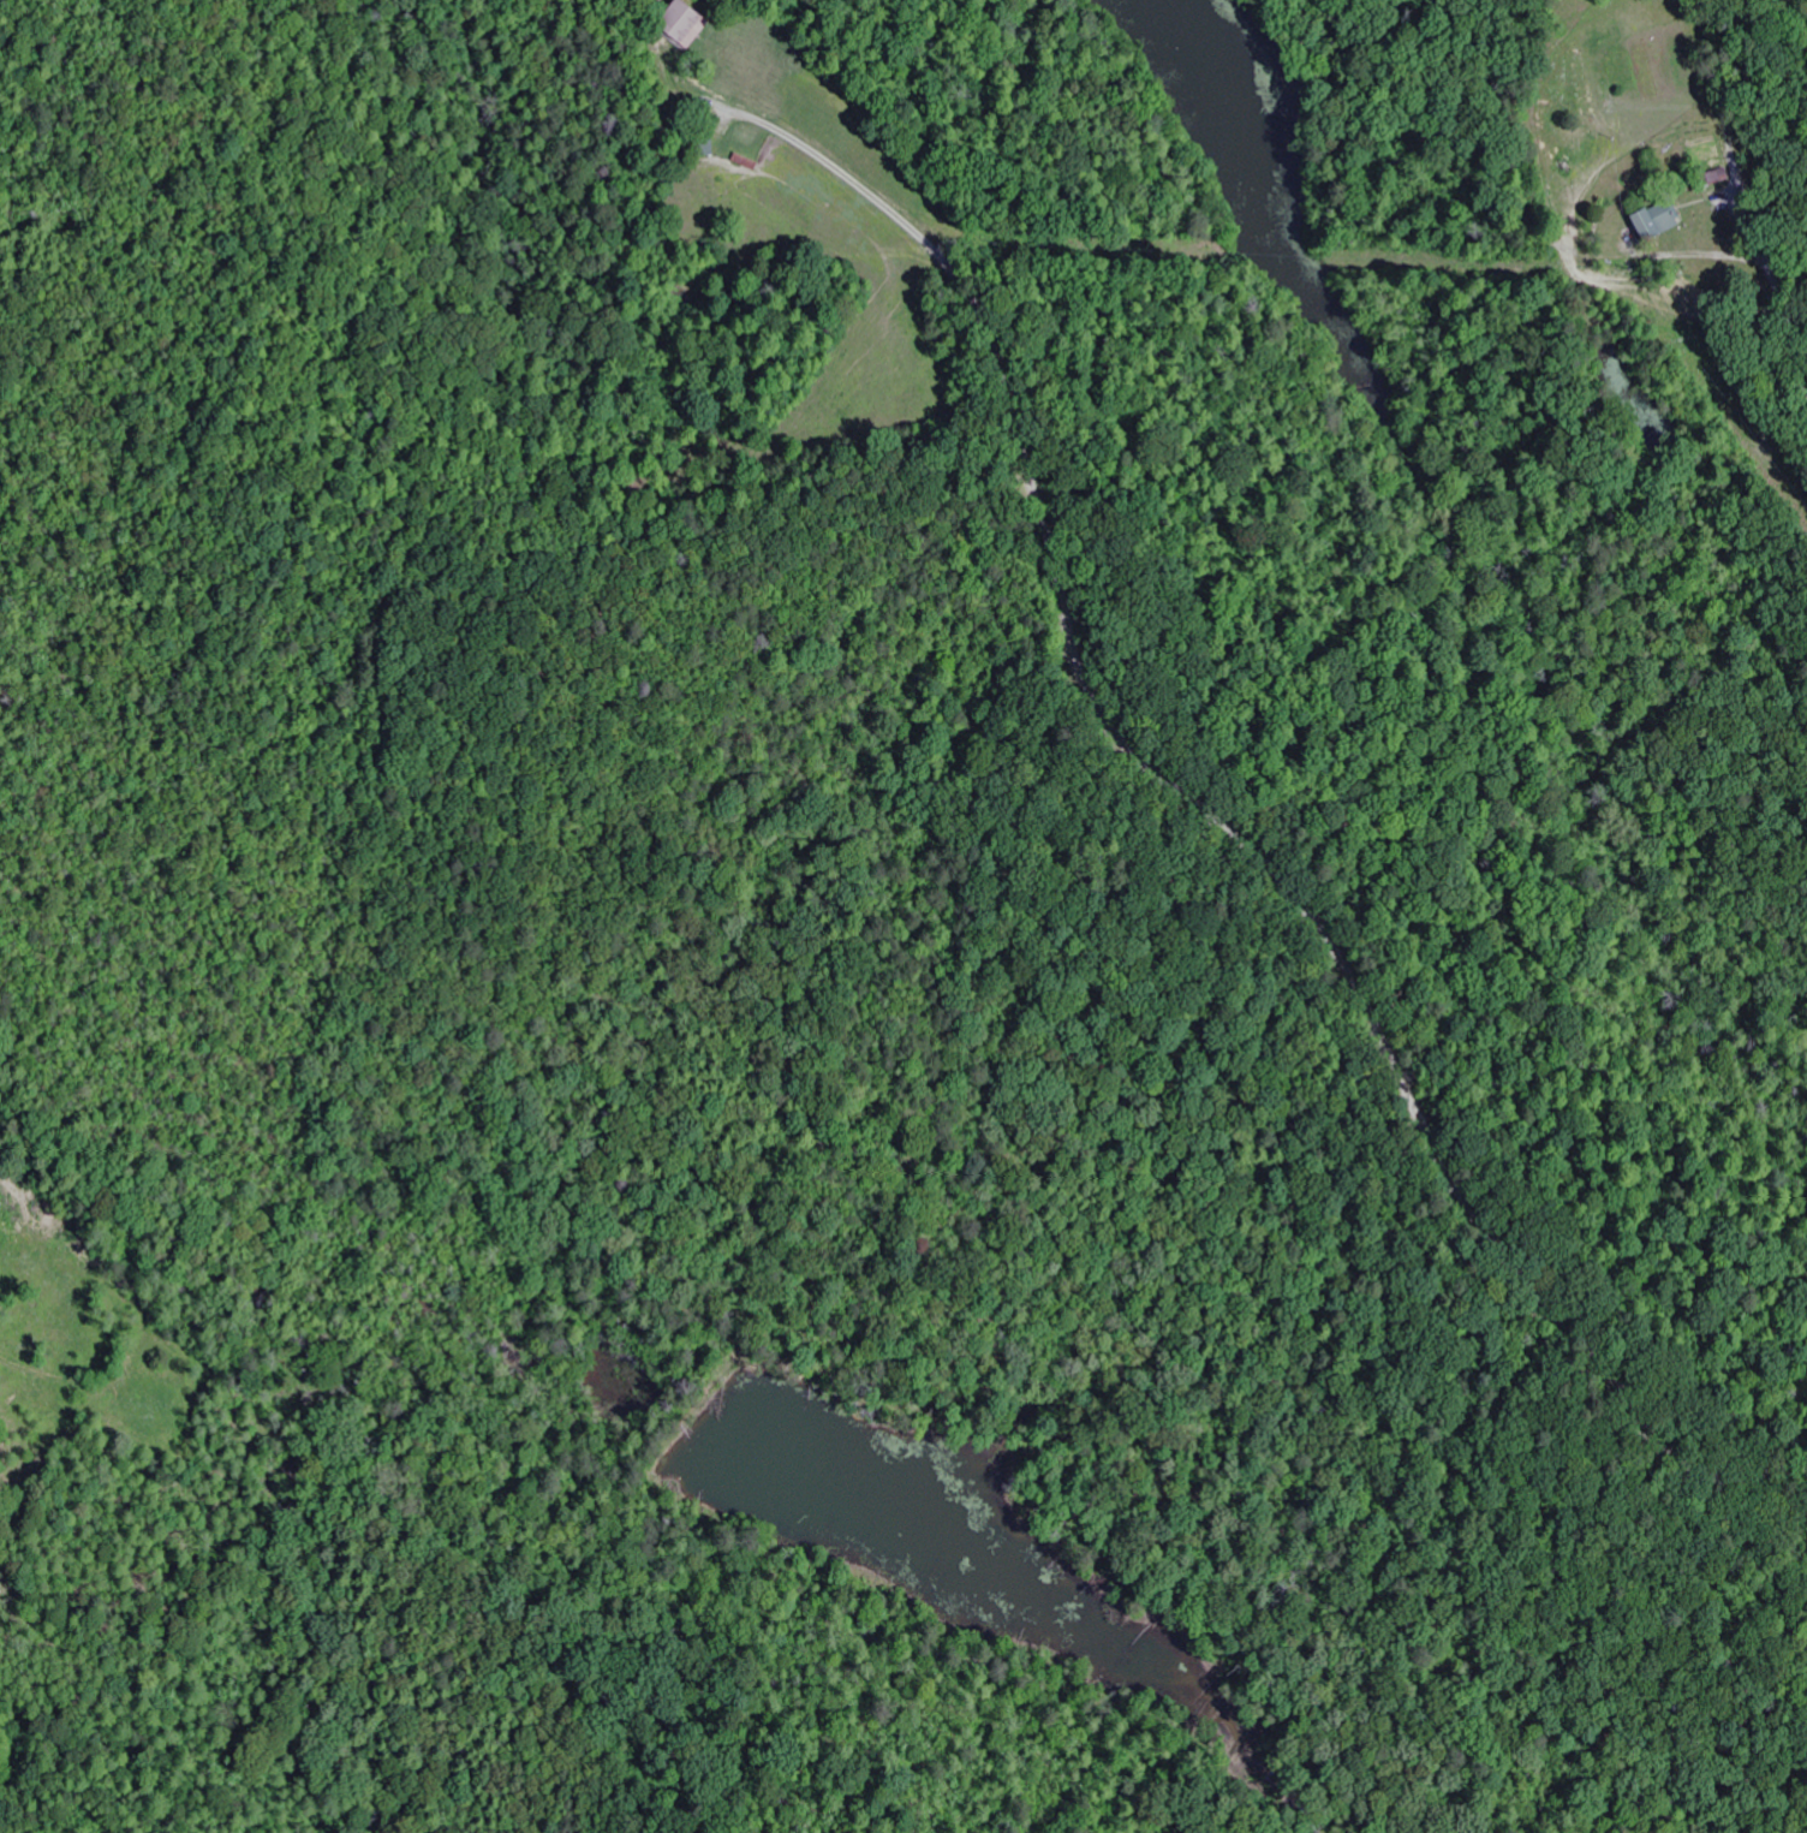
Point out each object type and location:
building: (694, 22)
building: (1652, 221)
road: (1772, 279)
road: (1241, 833)

